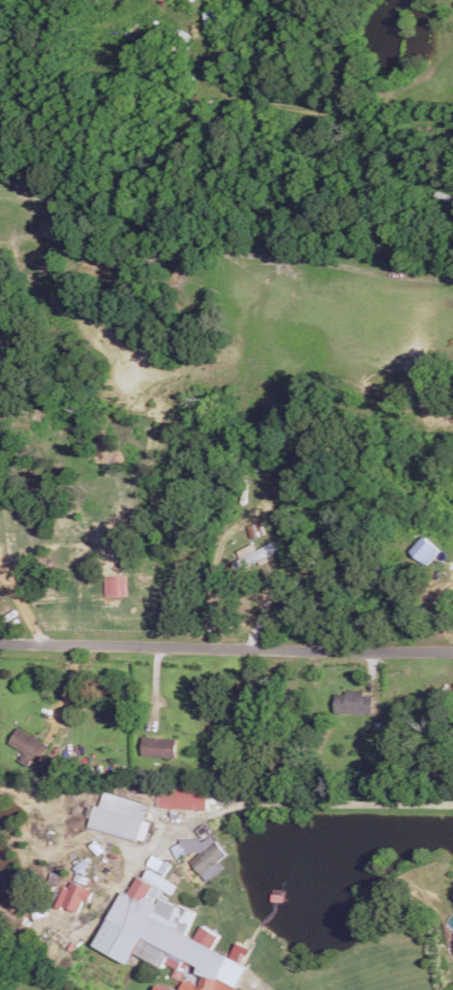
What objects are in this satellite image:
road: (442, 279)
building: (425, 549)
building: (253, 553)
building: (115, 584)
road: (24, 603)
road: (226, 649)
road: (64, 694)
building: (354, 701)
building: (28, 745)
building: (159, 746)
building: (183, 797)
building: (120, 816)
building: (202, 853)
building: (77, 895)
building: (165, 935)
building: (239, 951)

